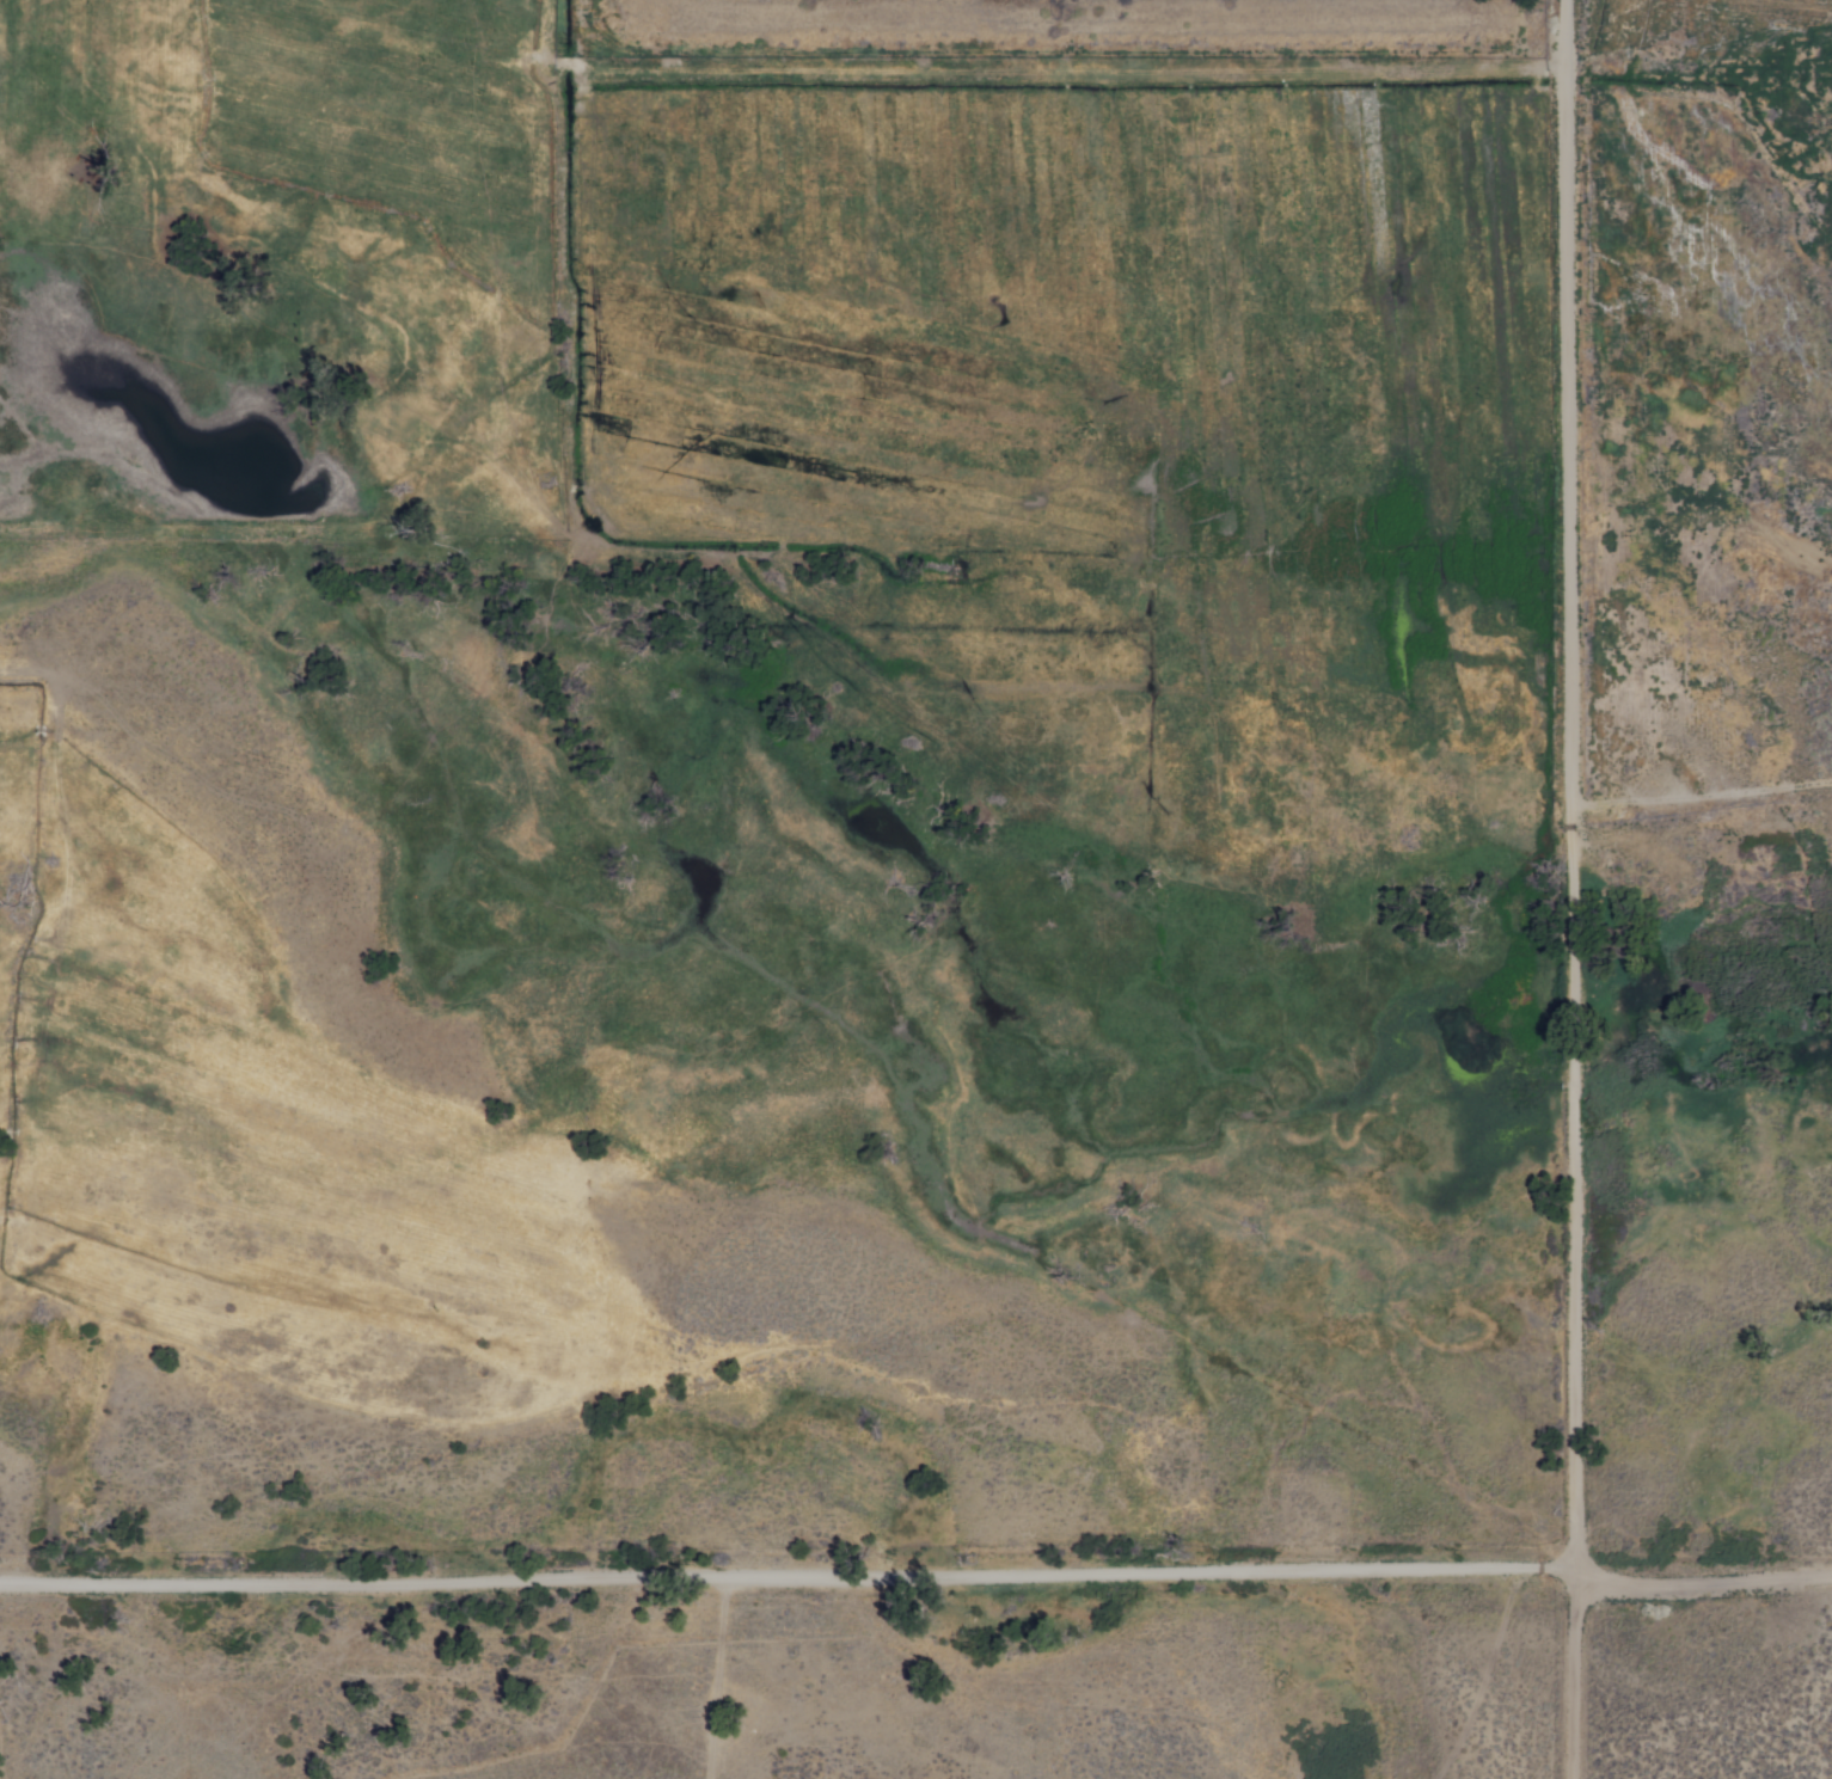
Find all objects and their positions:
wastewater plant: (1031, 38)
road: (1576, 889)
road: (1704, 1572)
road: (789, 1575)

